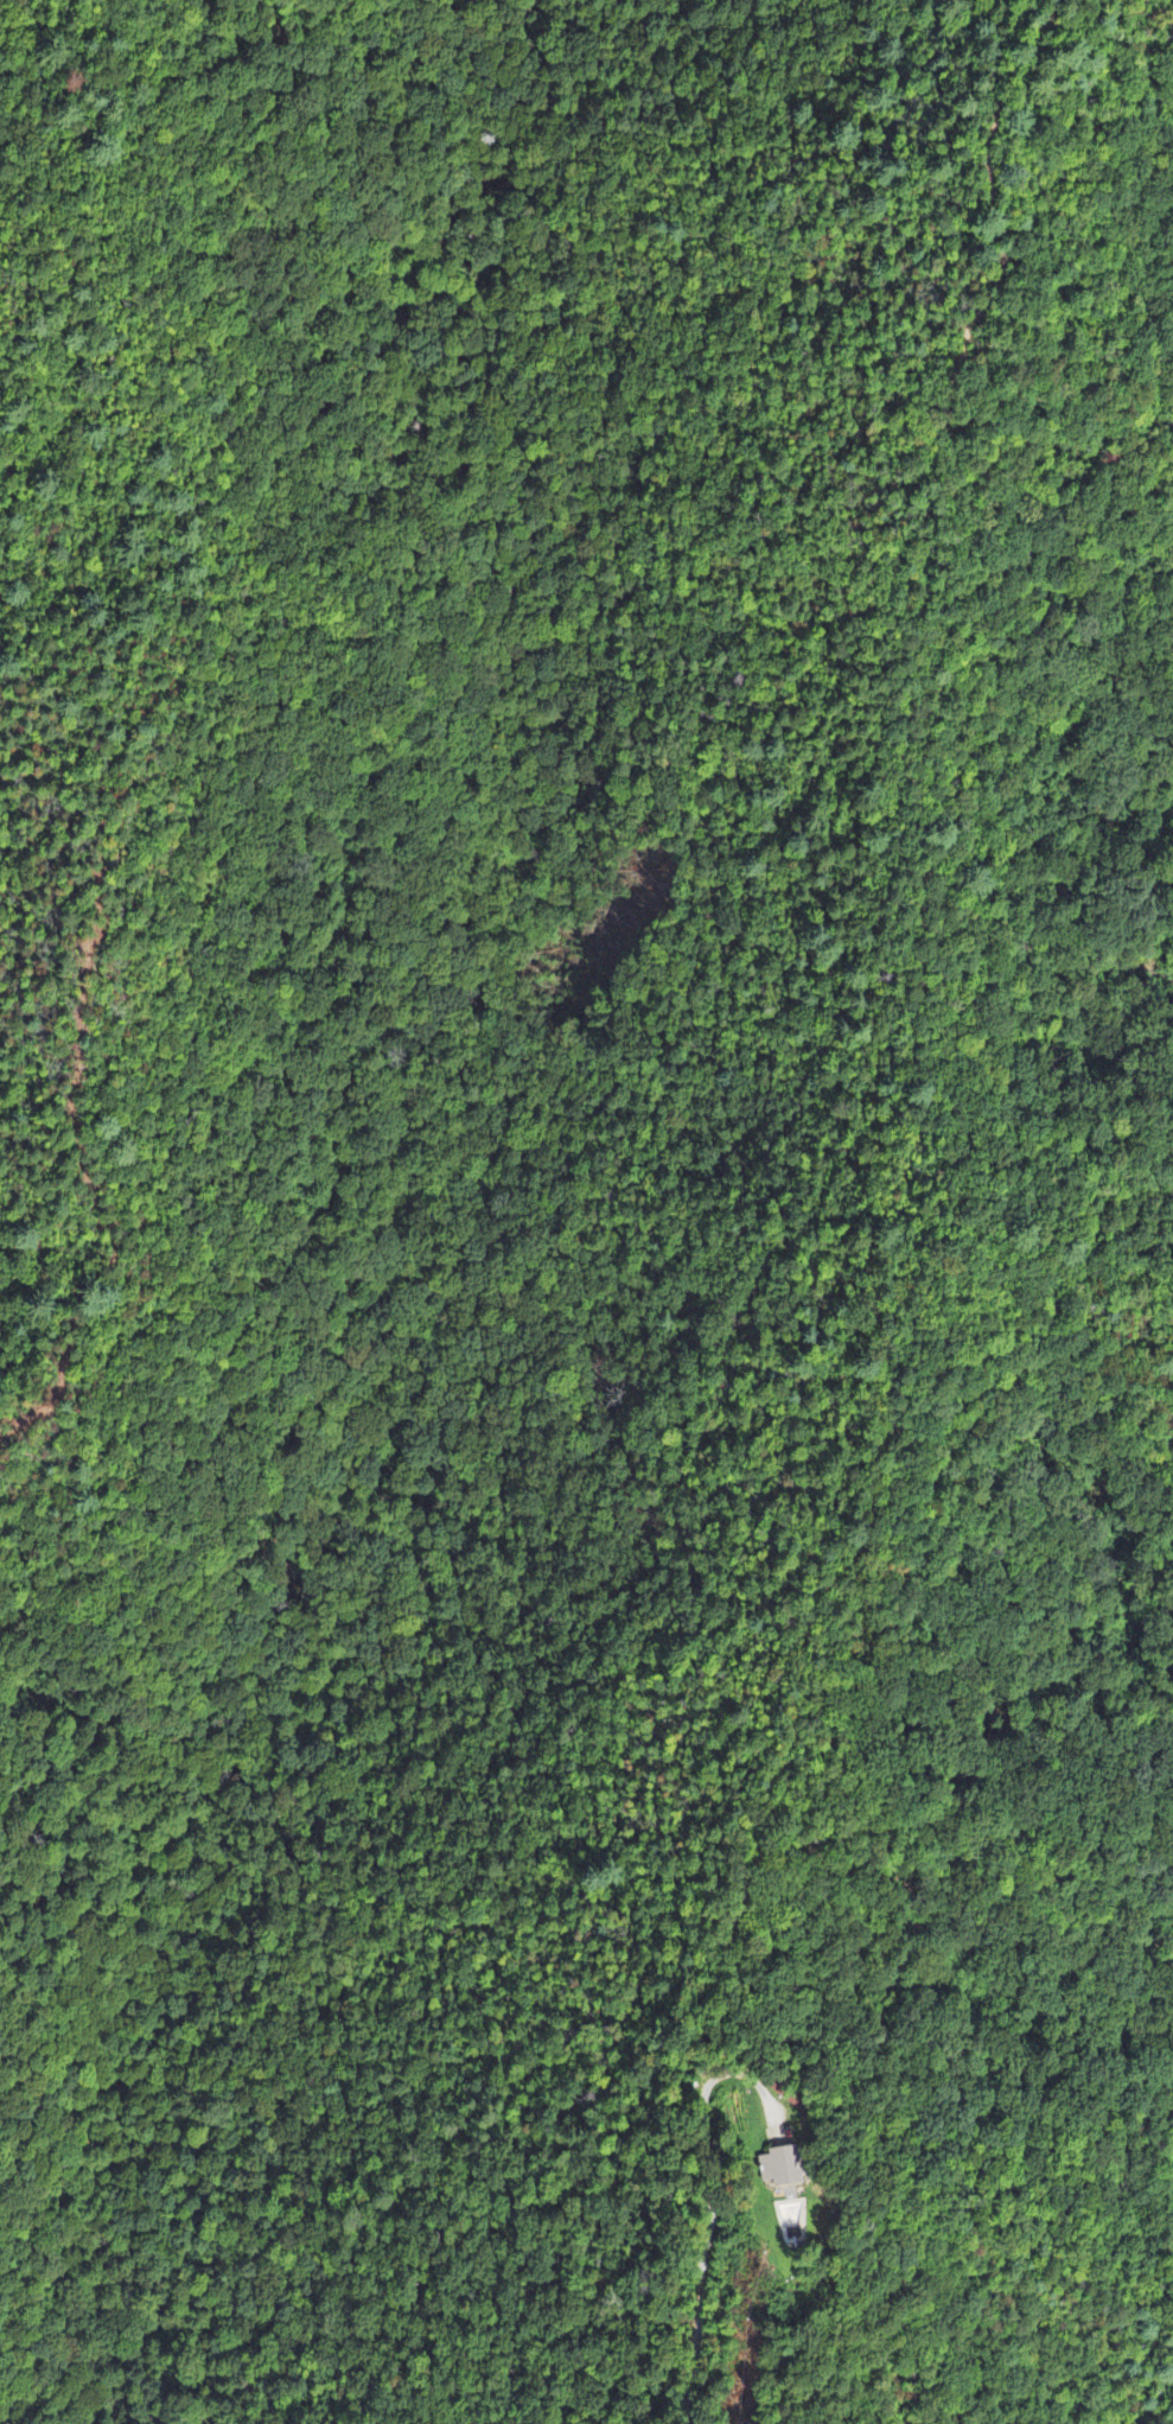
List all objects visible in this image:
building: (791, 2167)
road: (708, 2234)

